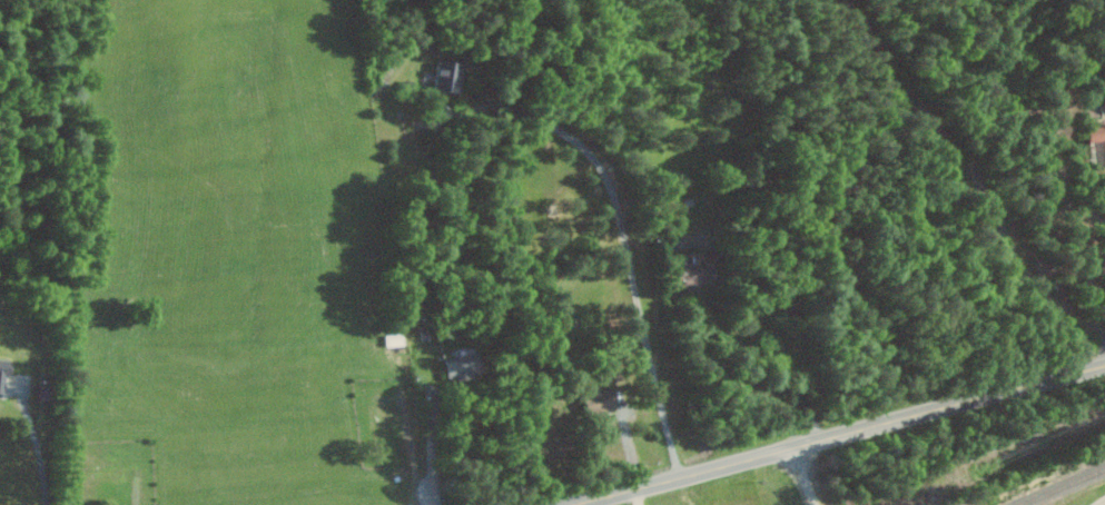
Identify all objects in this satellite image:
building: (451, 76)
building: (1097, 132)
road: (629, 236)
building: (396, 338)
building: (466, 365)
building: (4, 374)
building: (602, 399)
road: (843, 435)
road: (39, 447)
road: (435, 452)
road: (813, 475)
railway: (1065, 487)
road: (640, 498)
road: (1101, 503)

